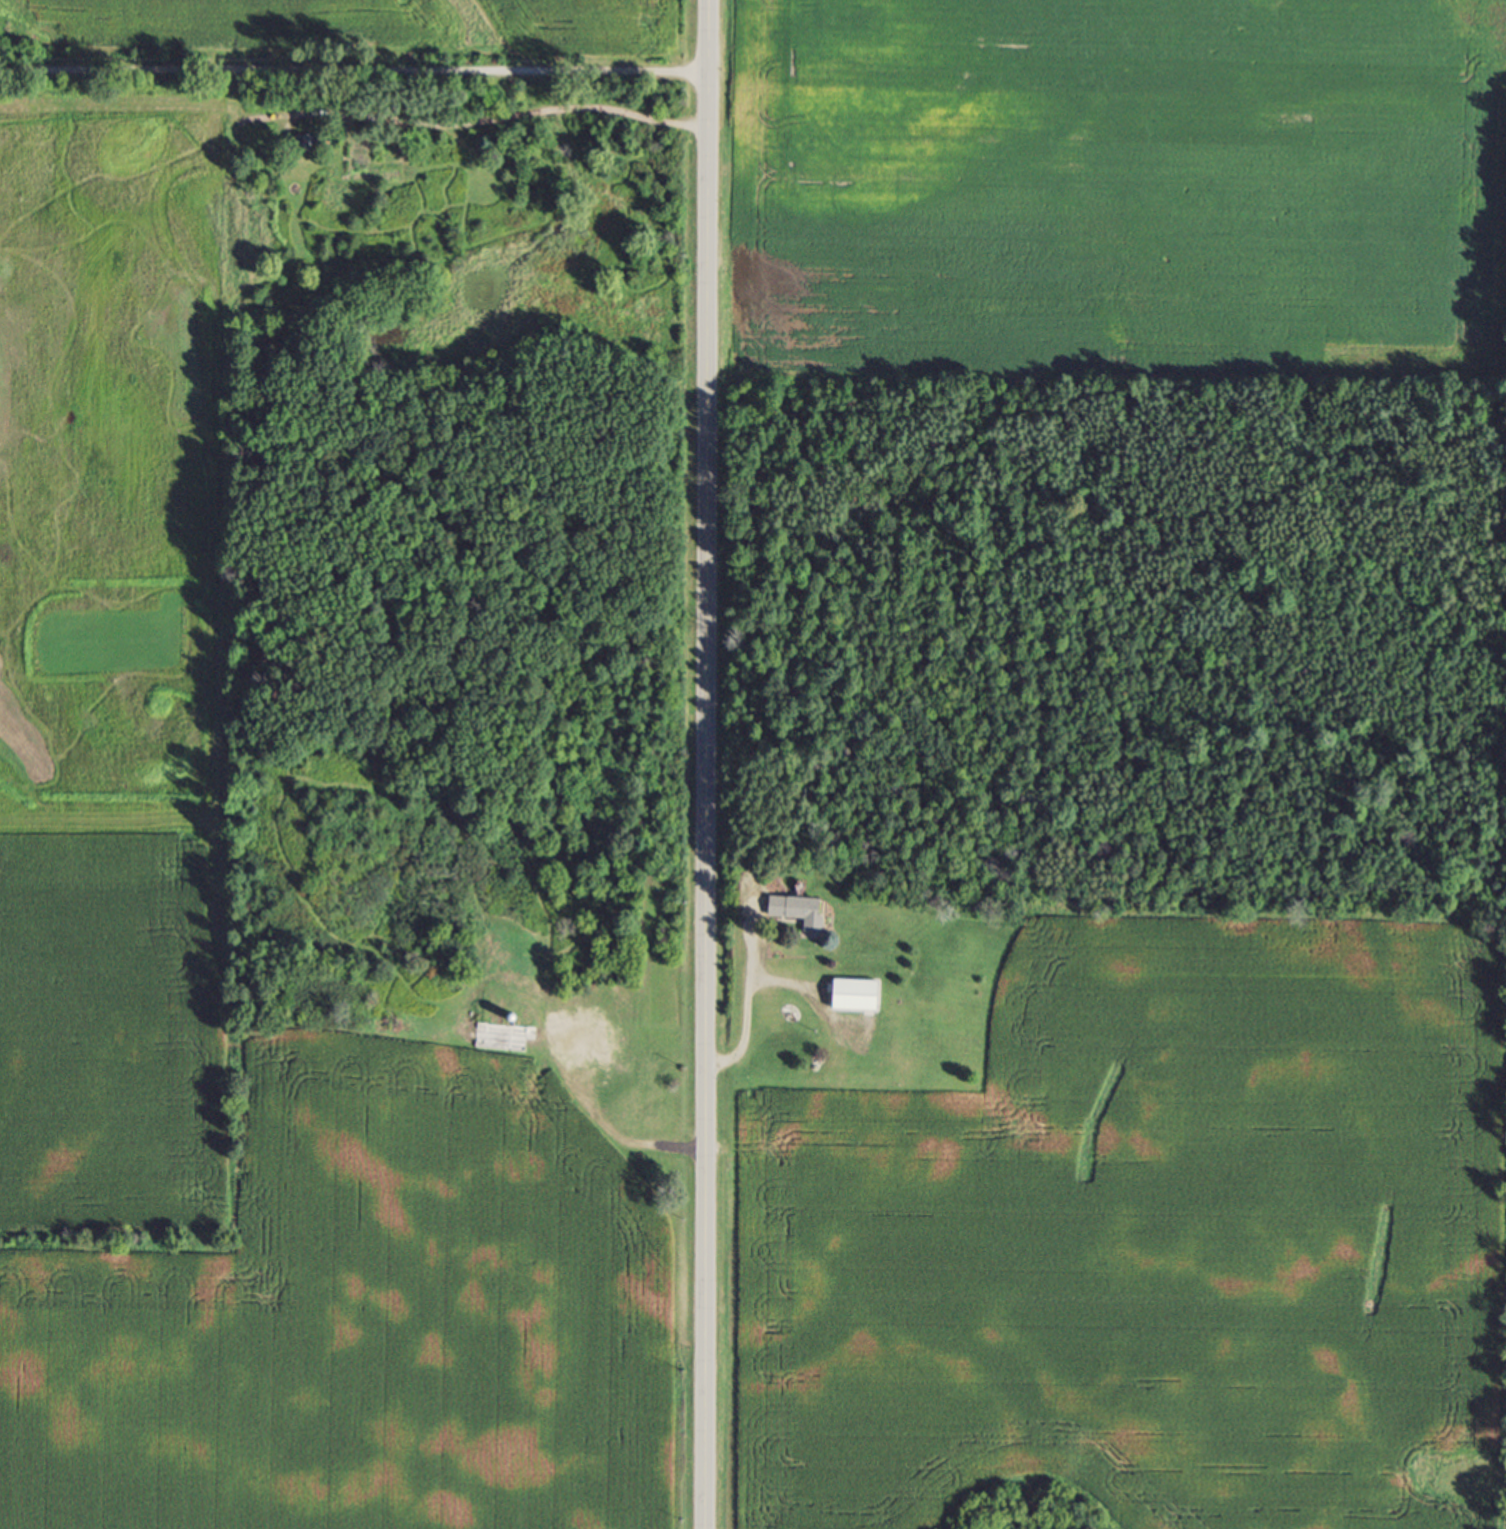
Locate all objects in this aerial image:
road: (354, 42)
building: (308, 148)
road: (705, 764)
building: (803, 915)
road: (746, 993)
building: (861, 1000)
building: (589, 1046)
building: (541, 1088)
building: (654, 1116)

